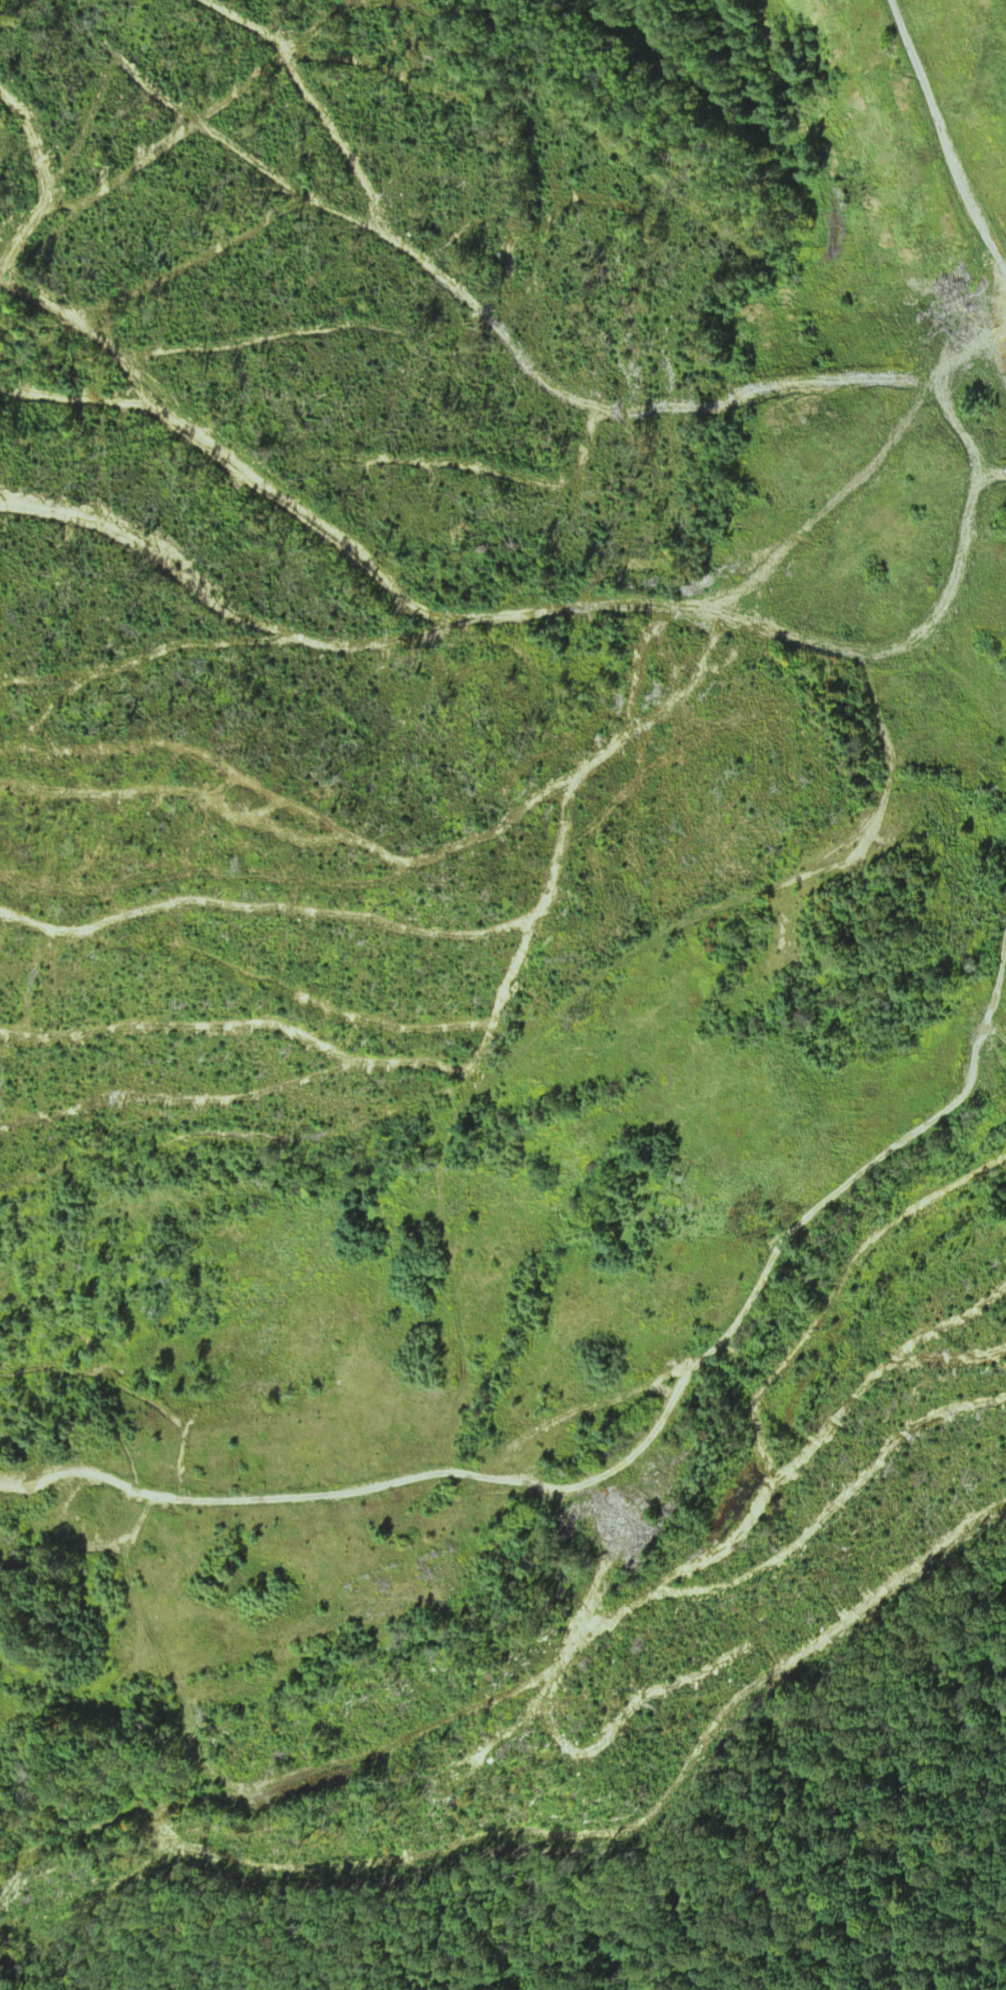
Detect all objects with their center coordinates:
road: (950, 90)
road: (641, 1203)

